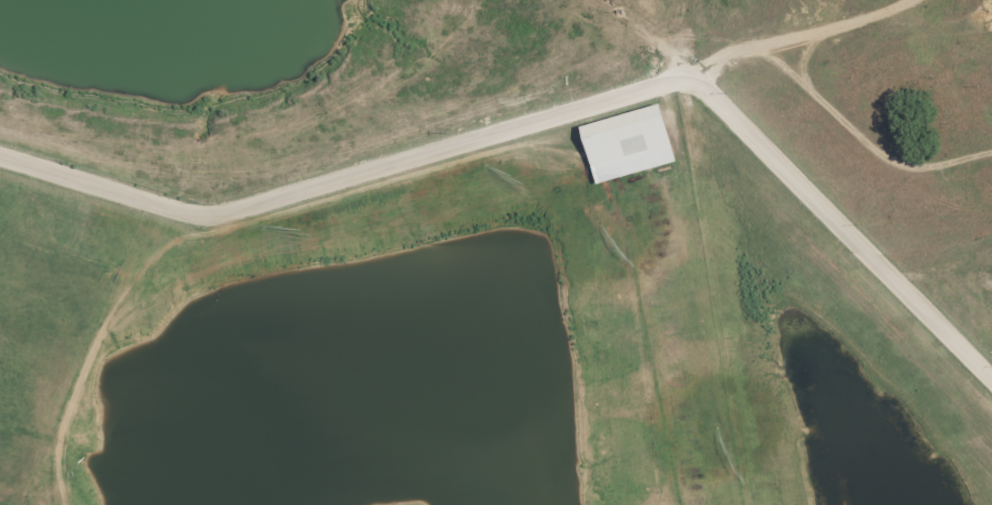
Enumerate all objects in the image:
road: (783, 40)
road: (546, 116)
road: (239, 357)

